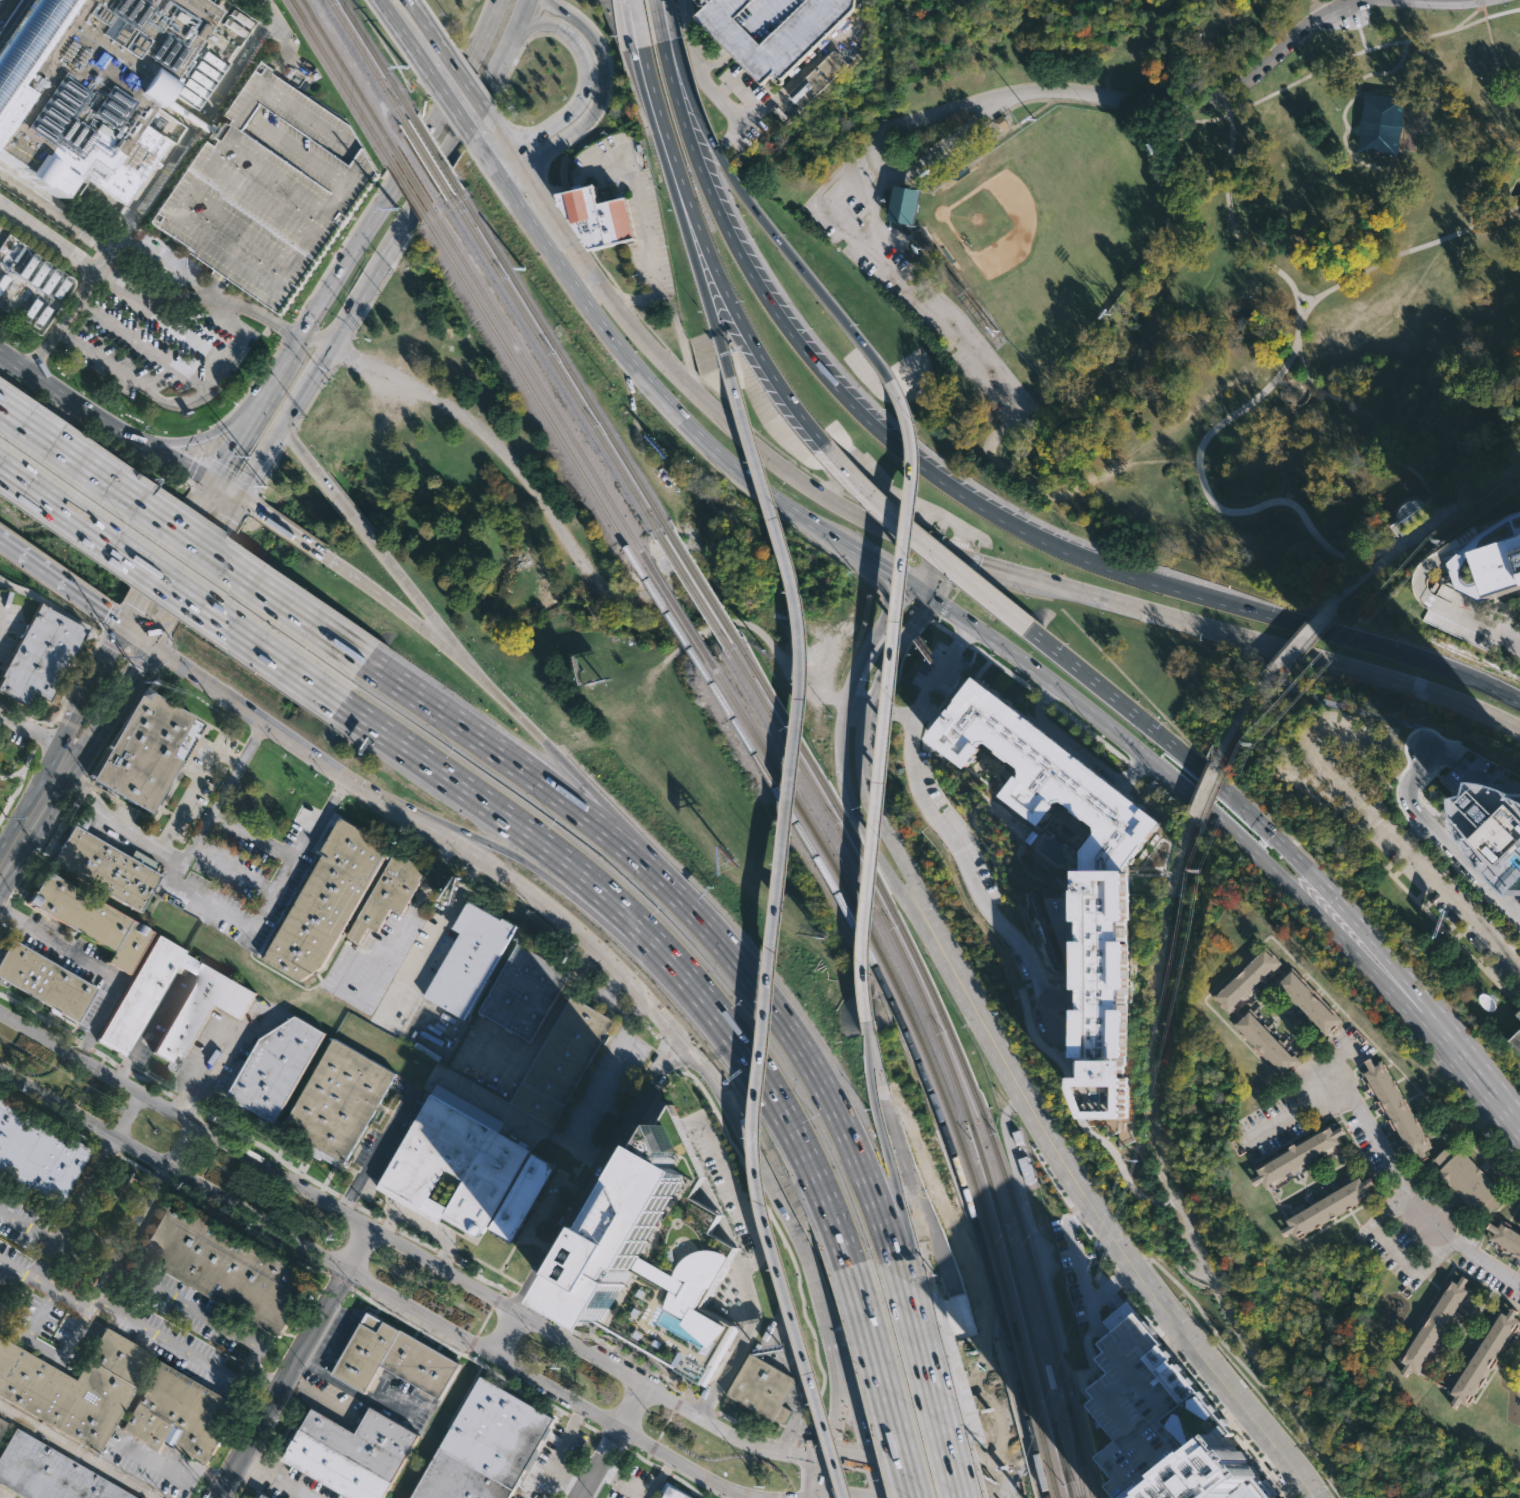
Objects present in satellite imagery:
road: (1454, 0)
road: (1483, 2)
road: (1320, 7)
road: (1351, 7)
road: (1485, 11)
road: (433, 13)
parking lot: (1352, 13)
road: (1469, 15)
road: (419, 17)
road: (536, 18)
road: (663, 20)
road: (1356, 20)
road: (397, 26)
road: (562, 29)
building: (771, 30)
parking garage: (771, 30)
road: (1362, 38)
road: (394, 41)
road: (287, 43)
railway: (322, 49)
road: (1349, 55)
road: (713, 59)
railway: (378, 61)
road: (299, 65)
railway: (369, 65)
road: (701, 67)
road: (471, 68)
road: (1385, 71)
railway: (350, 76)
road: (461, 77)
building: (814, 77)
road: (684, 79)
road: (675, 82)
building: (86, 84)
road: (602, 88)
road: (1496, 88)
road: (1360, 93)
road: (446, 97)
road: (655, 105)
road: (486, 106)
road: (444, 114)
road: (926, 114)
road: (204, 117)
building: (1380, 122)
road: (556, 125)
road: (1353, 129)
railway: (372, 130)
road: (502, 136)
road: (567, 143)
road: (450, 145)
road: (1345, 145)
road: (530, 146)
railway: (431, 147)
road: (933, 152)
road: (484, 154)
railway: (426, 156)
road: (502, 159)
road: (405, 160)
road: (519, 161)
road: (391, 163)
road: (498, 175)
road: (515, 177)
railway: (413, 179)
railway: (408, 187)
building: (270, 189)
parking lot: (270, 189)
building: (906, 203)
road: (55, 211)
building: (597, 215)
park: (1053, 224)
road: (1233, 226)
road: (642, 228)
road: (707, 250)
road: (1405, 251)
road: (789, 252)
road: (697, 253)
park: (1182, 260)
building: (28, 265)
building: (39, 273)
building: (50, 280)
road: (188, 281)
road: (213, 286)
building: (61, 287)
road: (138, 294)
road: (60, 295)
road: (624, 297)
road: (76, 302)
parking lot: (113, 303)
road: (1309, 305)
building: (30, 309)
road: (346, 316)
building: (41, 317)
road: (302, 326)
road: (1299, 327)
road: (178, 328)
road: (288, 331)
traffic signals: (297, 335)
road: (716, 336)
road: (313, 341)
road: (142, 346)
traffic signals: (329, 347)
road: (340, 350)
railway: (558, 351)
road: (285, 353)
railway: (552, 358)
road: (105, 360)
road: (229, 361)
road: (359, 361)
road: (768, 370)
railway: (535, 377)
road: (266, 383)
railway: (529, 383)
road: (249, 386)
road: (303, 386)
road: (654, 390)
road: (64, 395)
road: (645, 395)
road: (311, 396)
road: (180, 401)
road: (712, 406)
road: (1374, 422)
road: (200, 435)
road: (288, 436)
road: (234, 438)
road: (215, 439)
road: (771, 445)
road: (296, 449)
road: (170, 458)
road: (255, 459)
road: (914, 459)
road: (196, 460)
road: (270, 468)
road: (225, 474)
road: (527, 479)
traffic signals: (210, 480)
road: (190, 482)
road: (222, 487)
road: (203, 492)
traffic signals: (234, 494)
road: (874, 499)
road: (243, 500)
road: (251, 503)
road: (226, 506)
road: (344, 508)
road: (1234, 511)
road: (285, 530)
road: (1423, 531)
road: (185, 535)
park: (1421, 535)
road: (1428, 538)
power tower: (1437, 541)
road: (961, 544)
road: (156, 548)
road: (167, 554)
building: (1464, 556)
road: (30, 558)
building: (1500, 559)
road: (971, 561)
traffic signals: (980, 564)
road: (882, 565)
road: (189, 568)
road: (929, 569)
traffic signals: (900, 577)
road: (205, 579)
road: (880, 580)
road: (173, 581)
railway: (704, 585)
road: (958, 586)
road: (979, 588)
railway: (696, 590)
road: (920, 592)
road: (413, 596)
road: (906, 599)
power tower: (1369, 600)
road: (1434, 600)
road: (383, 602)
road: (897, 602)
road: (92, 603)
road: (53, 604)
railway: (673, 605)
railway: (668, 609)
road: (942, 610)
road: (132, 615)
road: (110, 621)
traffic signals: (915, 623)
traffic signals: (126, 626)
road: (942, 626)
road: (1507, 628)
road: (910, 630)
road: (877, 631)
road: (136, 633)
road: (1248, 638)
road: (1302, 638)
road: (960, 639)
traffic signals: (147, 640)
road: (1310, 641)
building: (39, 656)
road: (902, 656)
road: (1407, 657)
road: (141, 663)
road: (1003, 668)
road: (854, 670)
road: (1041, 672)
road: (75, 684)
road: (1098, 685)
road: (90, 686)
road: (119, 689)
road: (496, 697)
road: (882, 697)
road: (1044, 697)
road: (942, 700)
road: (859, 704)
road: (931, 708)
road: (886, 710)
road: (893, 711)
road: (1242, 714)
road: (254, 715)
road: (1250, 718)
road: (33, 731)
road: (1088, 731)
road: (41, 732)
parking lot: (1364, 737)
road: (1077, 748)
road: (1403, 748)
building: (146, 749)
road: (493, 749)
road: (864, 756)
power tower: (1239, 762)
road: (1130, 765)
road: (24, 766)
road: (912, 767)
road: (1308, 773)
road: (1415, 773)
building: (1476, 776)
road: (194, 788)
road: (579, 791)
road: (14, 792)
road: (1202, 792)
road: (221, 793)
road: (1211, 796)
road: (945, 797)
road: (1444, 807)
road: (35, 808)
road: (1209, 812)
road: (857, 819)
road: (1460, 821)
road: (1376, 824)
road: (443, 826)
building: (1500, 826)
road: (1418, 831)
road: (1415, 835)
road: (251, 836)
road: (1163, 837)
road: (1275, 838)
road: (963, 848)
parking lot: (1415, 860)
road: (901, 861)
road: (0, 863)
road: (1471, 863)
road: (233, 865)
road: (1134, 867)
road: (1158, 867)
building: (107, 868)
power tower: (1199, 871)
road: (1146, 873)
road: (1168, 873)
road: (543, 877)
road: (1472, 886)
road: (1402, 887)
road: (1424, 891)
building: (388, 894)
building: (1102, 894)
building: (326, 900)
road: (1358, 906)
road: (215, 909)
road: (1313, 914)
building: (90, 919)
road: (435, 938)
road: (767, 938)
road: (635, 941)
road: (656, 943)
road: (1023, 950)
road: (389, 951)
road: (1070, 954)
road: (1486, 954)
building: (471, 959)
road: (97, 970)
building: (1243, 976)
road: (1399, 976)
road: (1155, 979)
building: (43, 983)
road: (1388, 984)
building: (524, 991)
building: (143, 993)
road: (1058, 996)
road: (986, 998)
building: (1306, 1000)
road: (651, 1005)
building: (201, 1010)
building: (1518, 1014)
road: (1165, 1022)
building: (1265, 1040)
building: (1515, 1042)
road: (804, 1048)
railway: (956, 1051)
road: (216, 1052)
railway: (944, 1053)
road: (1066, 1055)
railway: (928, 1059)
building: (561, 1061)
railway: (921, 1061)
road: (1334, 1064)
building: (275, 1068)
road: (611, 1068)
road: (1471, 1070)
road: (169, 1095)
building: (340, 1100)
road: (1084, 1107)
building: (1396, 1110)
road: (1287, 1113)
road: (127, 1114)
road: (1080, 1121)
road: (1125, 1127)
road: (1148, 1143)
road: (183, 1145)
road: (376, 1149)
building: (38, 1154)
building: (1298, 1154)
power tower: (1136, 1161)
building: (452, 1164)
road: (1144, 1168)
road: (1501, 1176)
road: (1052, 1177)
building: (1467, 1178)
road: (1166, 1182)
road: (84, 1186)
road: (589, 1195)
road: (1411, 1196)
building: (520, 1198)
road: (347, 1201)
building: (1327, 1205)
road: (1077, 1217)
road: (231, 1219)
road: (1102, 1220)
road: (27, 1224)
road: (421, 1230)
road: (1380, 1234)
building: (1505, 1235)
road: (409, 1248)
road: (435, 1249)
road: (1074, 1249)
road: (1098, 1249)
road: (945, 1256)
road: (43, 1258)
building: (660, 1259)
road: (1498, 1260)
road: (1434, 1261)
road: (748, 1266)
building: (226, 1267)
road: (16, 1268)
road: (1119, 1279)
road: (1483, 1282)
road: (375, 1285)
road: (1095, 1297)
road: (526, 1302)
building: (3, 1312)
road: (91, 1312)
road: (1205, 1320)
building: (1434, 1325)
road: (831, 1337)
road: (919, 1338)
road: (622, 1342)
road: (1174, 1349)
building: (1482, 1358)
building: (394, 1359)
road: (296, 1363)
road: (252, 1365)
road: (1257, 1365)
road: (266, 1378)
road: (1239, 1379)
building: (75, 1386)
building: (766, 1388)
road: (883, 1389)
road: (352, 1391)
road: (834, 1405)
road: (854, 1406)
road: (701, 1407)
building: (1148, 1410)
parking garage: (1148, 1410)
building: (181, 1413)
road: (1234, 1413)
road: (1230, 1421)
road: (738, 1422)
road: (585, 1423)
building: (2, 1427)
road: (944, 1432)
road: (616, 1443)
road: (843, 1444)
building: (487, 1446)
road: (561, 1451)
road: (76, 1453)
building: (354, 1453)
railway: (1076, 1454)
traffic signals: (827, 1456)
road: (848, 1458)
traffic signals: (869, 1460)
railway: (1064, 1461)
road: (1262, 1464)
road: (924, 1466)
road: (198, 1467)
building: (49, 1473)
road: (914, 1474)
road: (277, 1476)
road: (823, 1476)
road: (571, 1478)
building: (1216, 1478)
road: (873, 1479)
building: (676, 1494)
road: (847, 1494)
traffic signals: (819, 1496)
building: (264, 1497)
road: (810, 1497)
road: (819, 1497)

